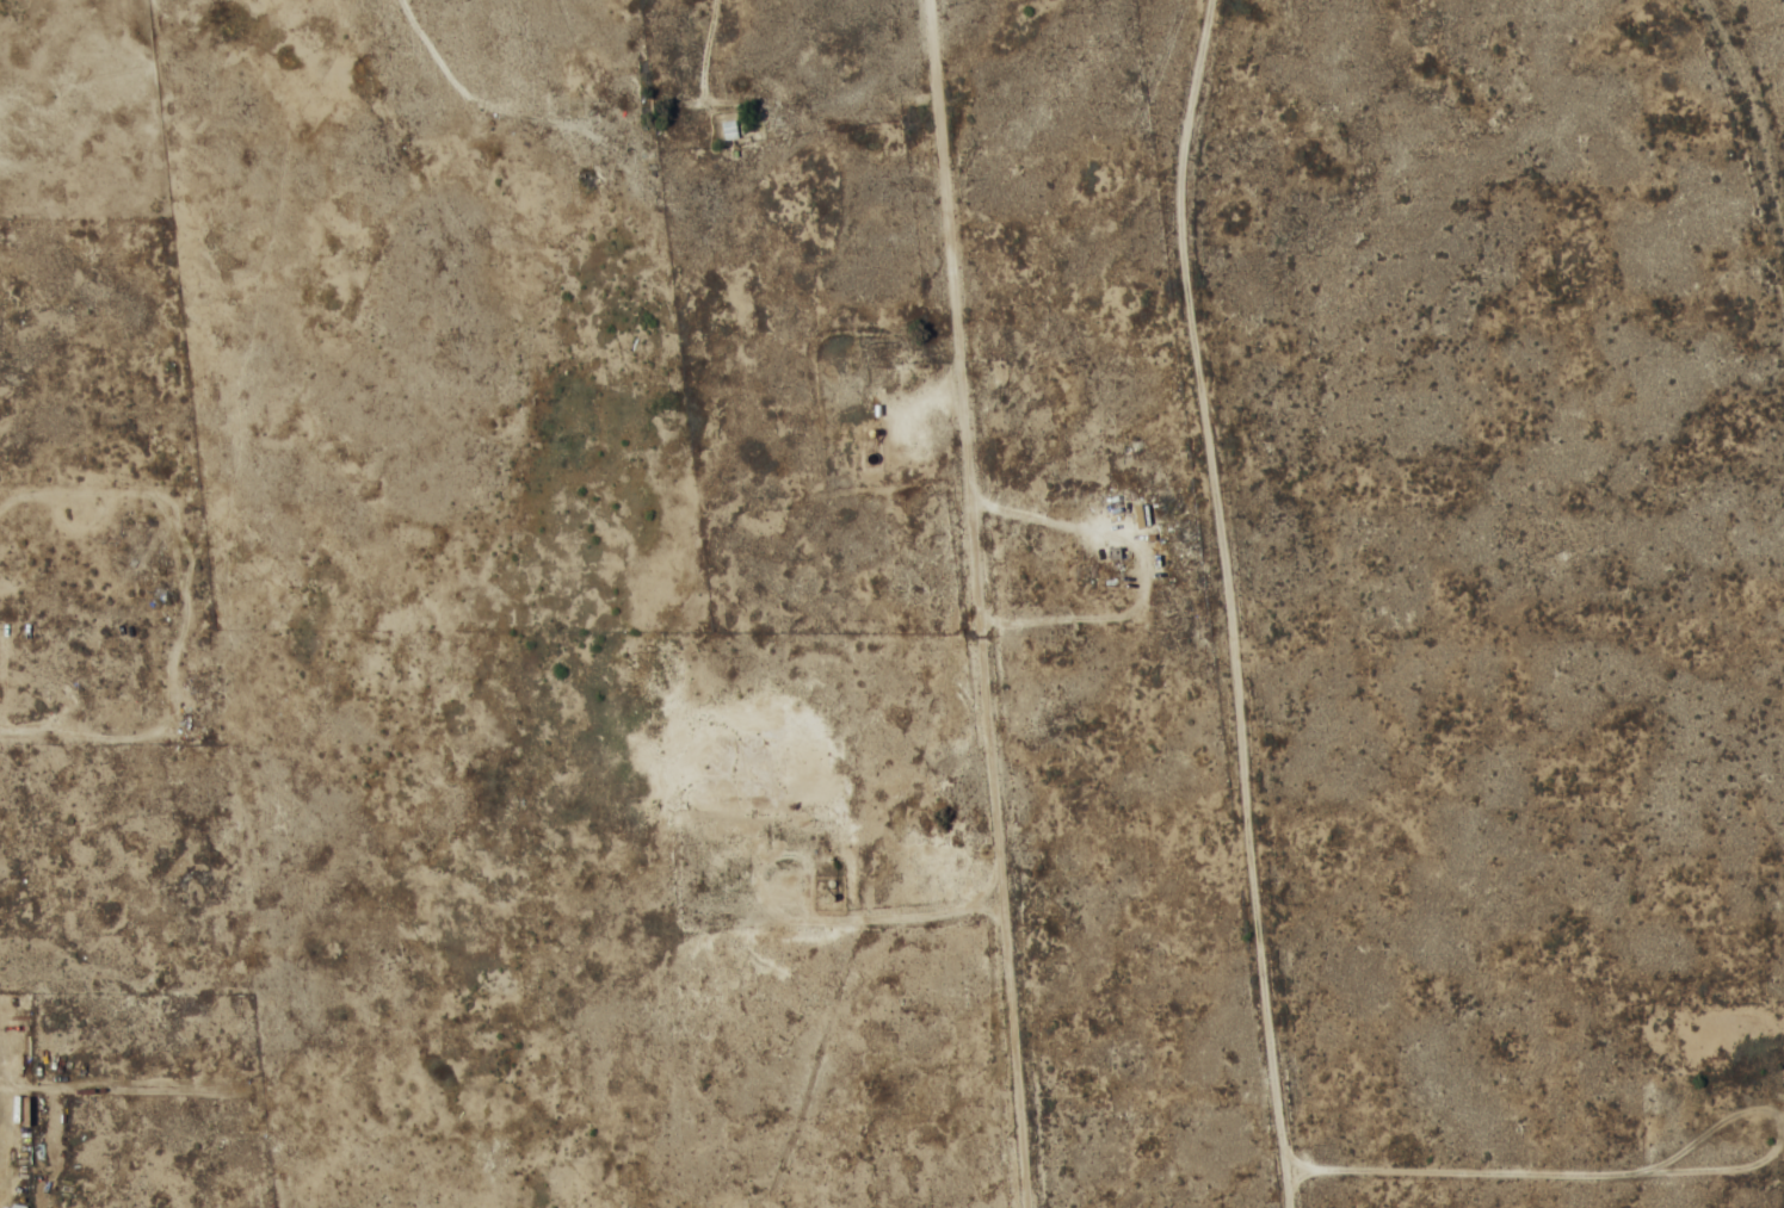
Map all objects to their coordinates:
building: (728, 129)
building: (1142, 514)
road: (982, 603)

